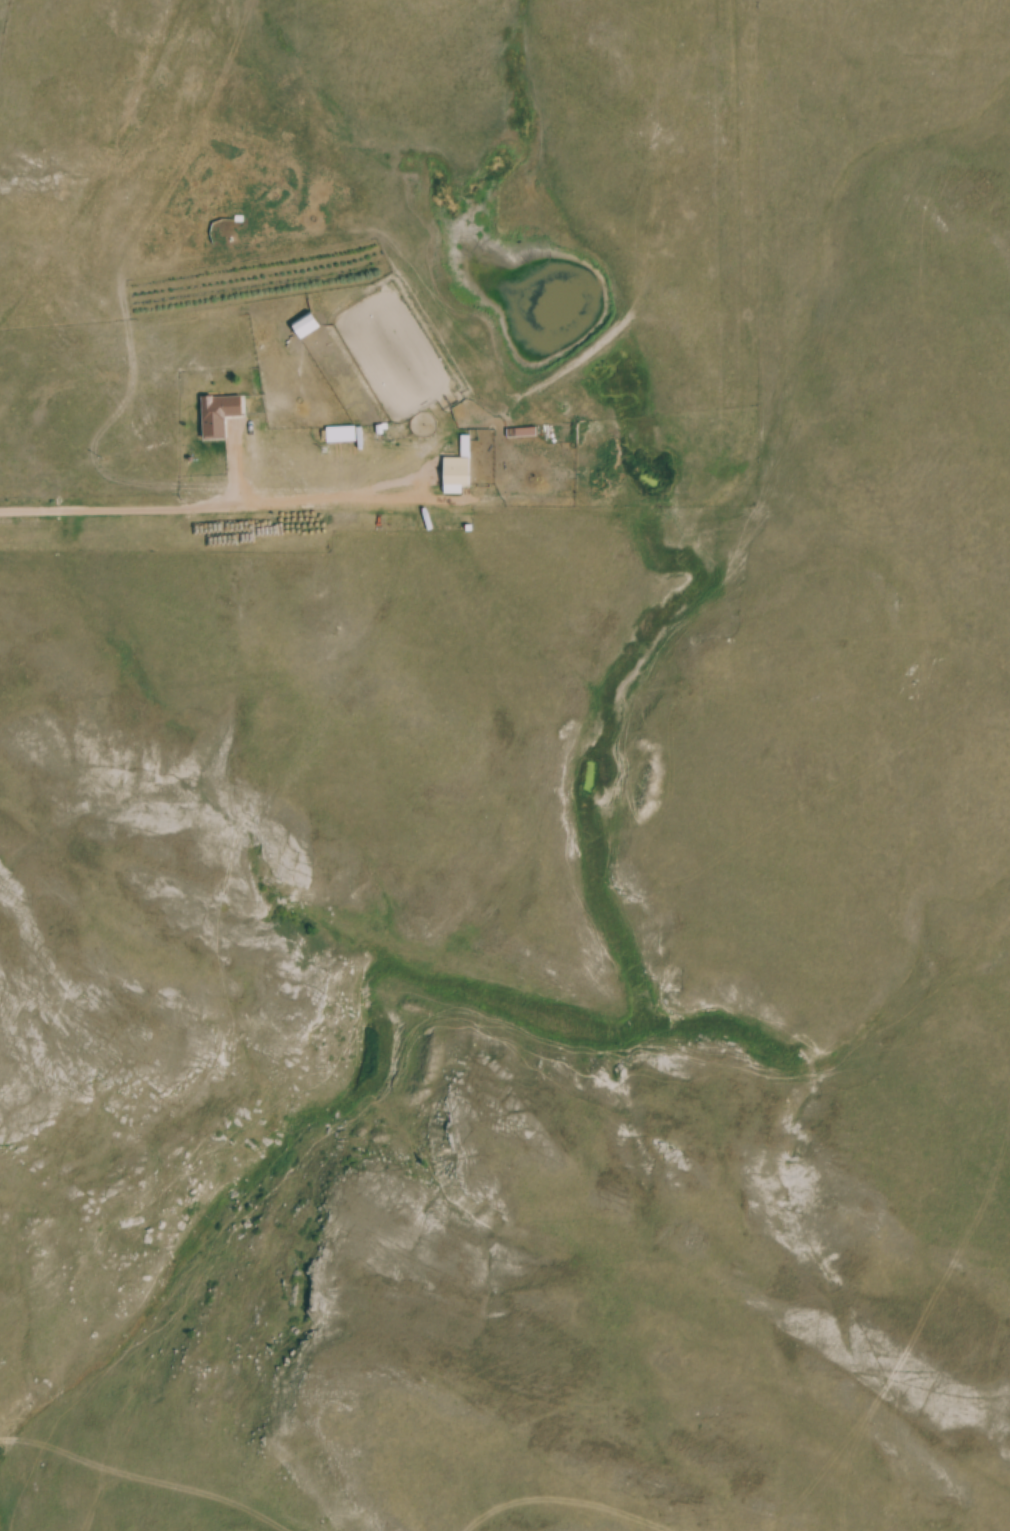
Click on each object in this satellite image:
building: (224, 410)
building: (341, 437)
building: (459, 468)

